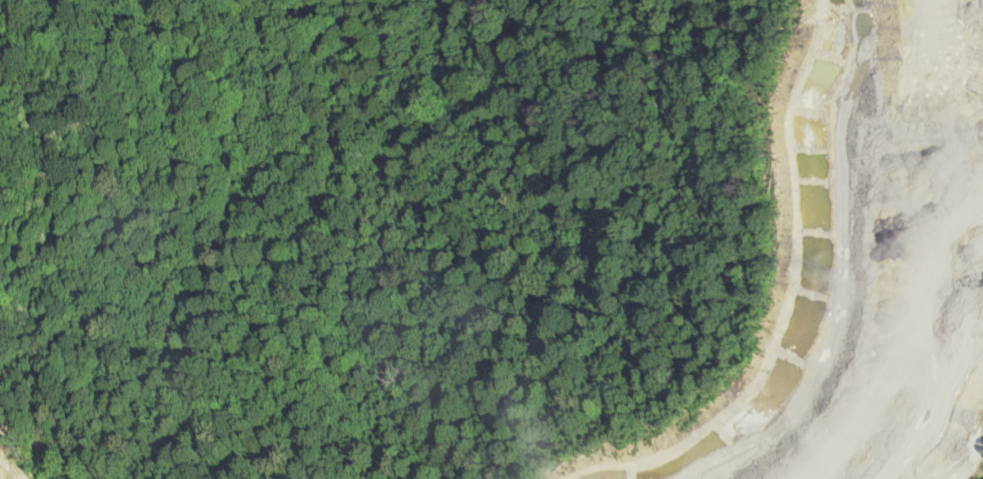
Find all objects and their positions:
quarry: (815, 276)
quarry: (27, 447)

